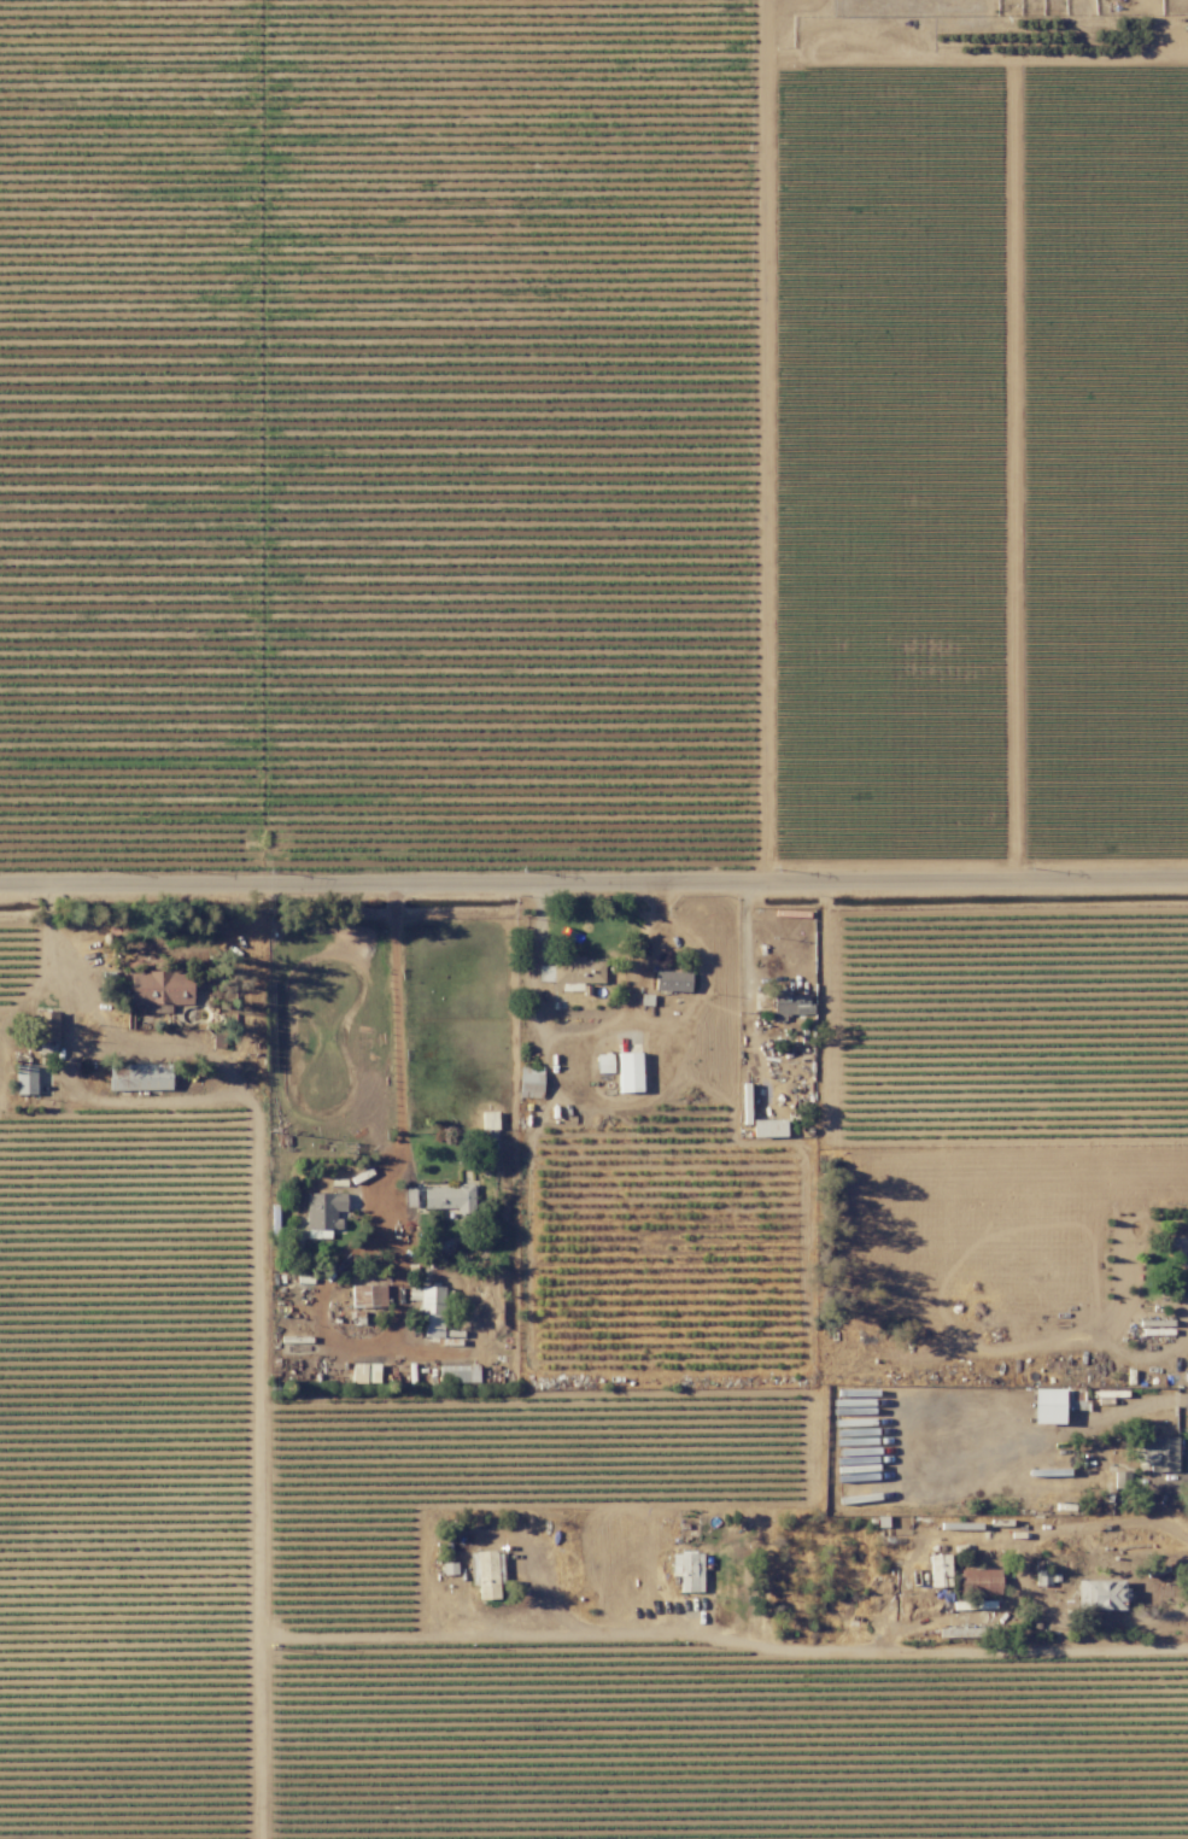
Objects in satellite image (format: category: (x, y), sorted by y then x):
road: (593, 895)
road: (46, 951)
building: (578, 971)
building: (671, 979)
building: (159, 986)
building: (789, 1003)
building: (46, 1024)
road: (398, 1033)
road: (578, 1042)
building: (602, 1062)
building: (628, 1071)
building: (139, 1076)
building: (23, 1078)
building: (528, 1080)
building: (488, 1119)
building: (767, 1128)
building: (449, 1196)
building: (322, 1212)
building: (1187, 1243)
building: (367, 1294)
building: (431, 1308)
building: (364, 1371)
building: (457, 1372)
building: (1046, 1405)
building: (1157, 1452)
building: (1120, 1478)
road: (1171, 1478)
road: (1017, 1566)
building: (687, 1570)
building: (938, 1570)
building: (485, 1572)
building: (1042, 1576)
building: (978, 1581)
building: (1100, 1594)
road: (807, 1648)

